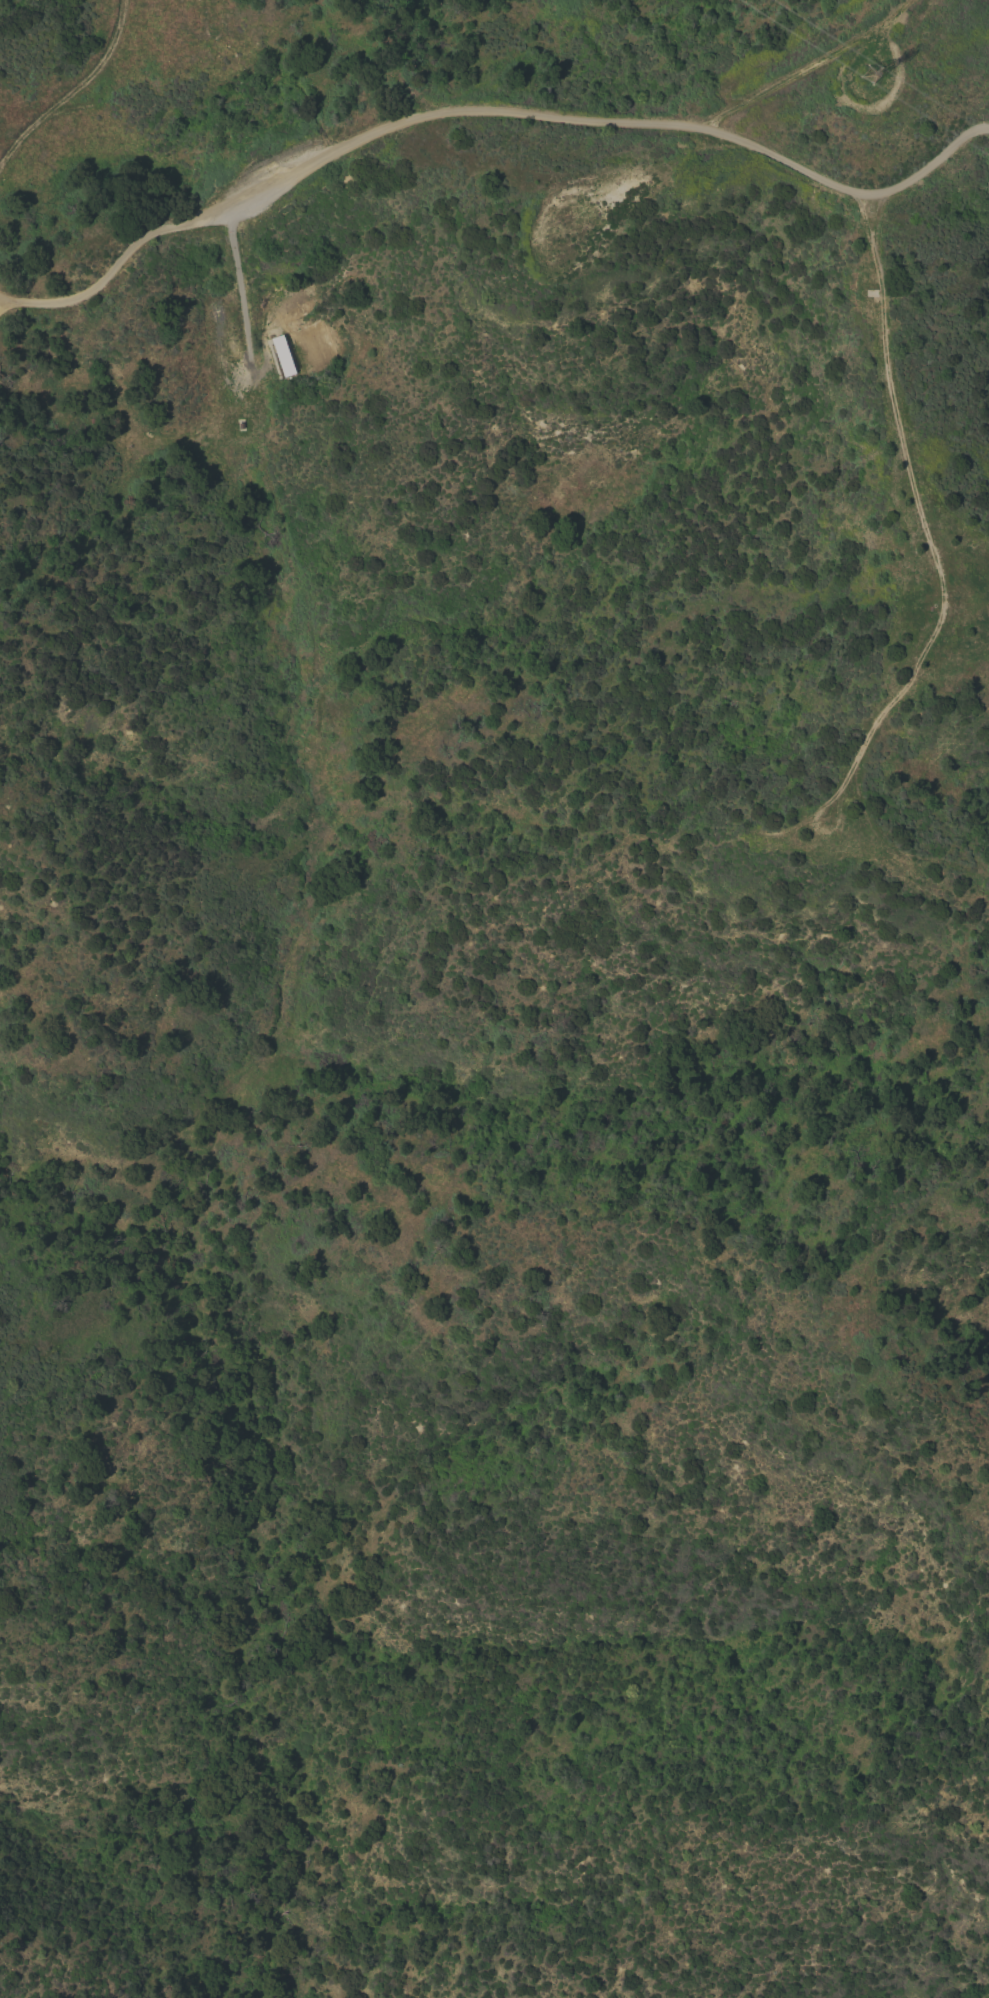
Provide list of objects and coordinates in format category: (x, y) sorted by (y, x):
power tower: (871, 77)
road: (66, 86)
road: (483, 113)
road: (238, 290)
building: (282, 355)

